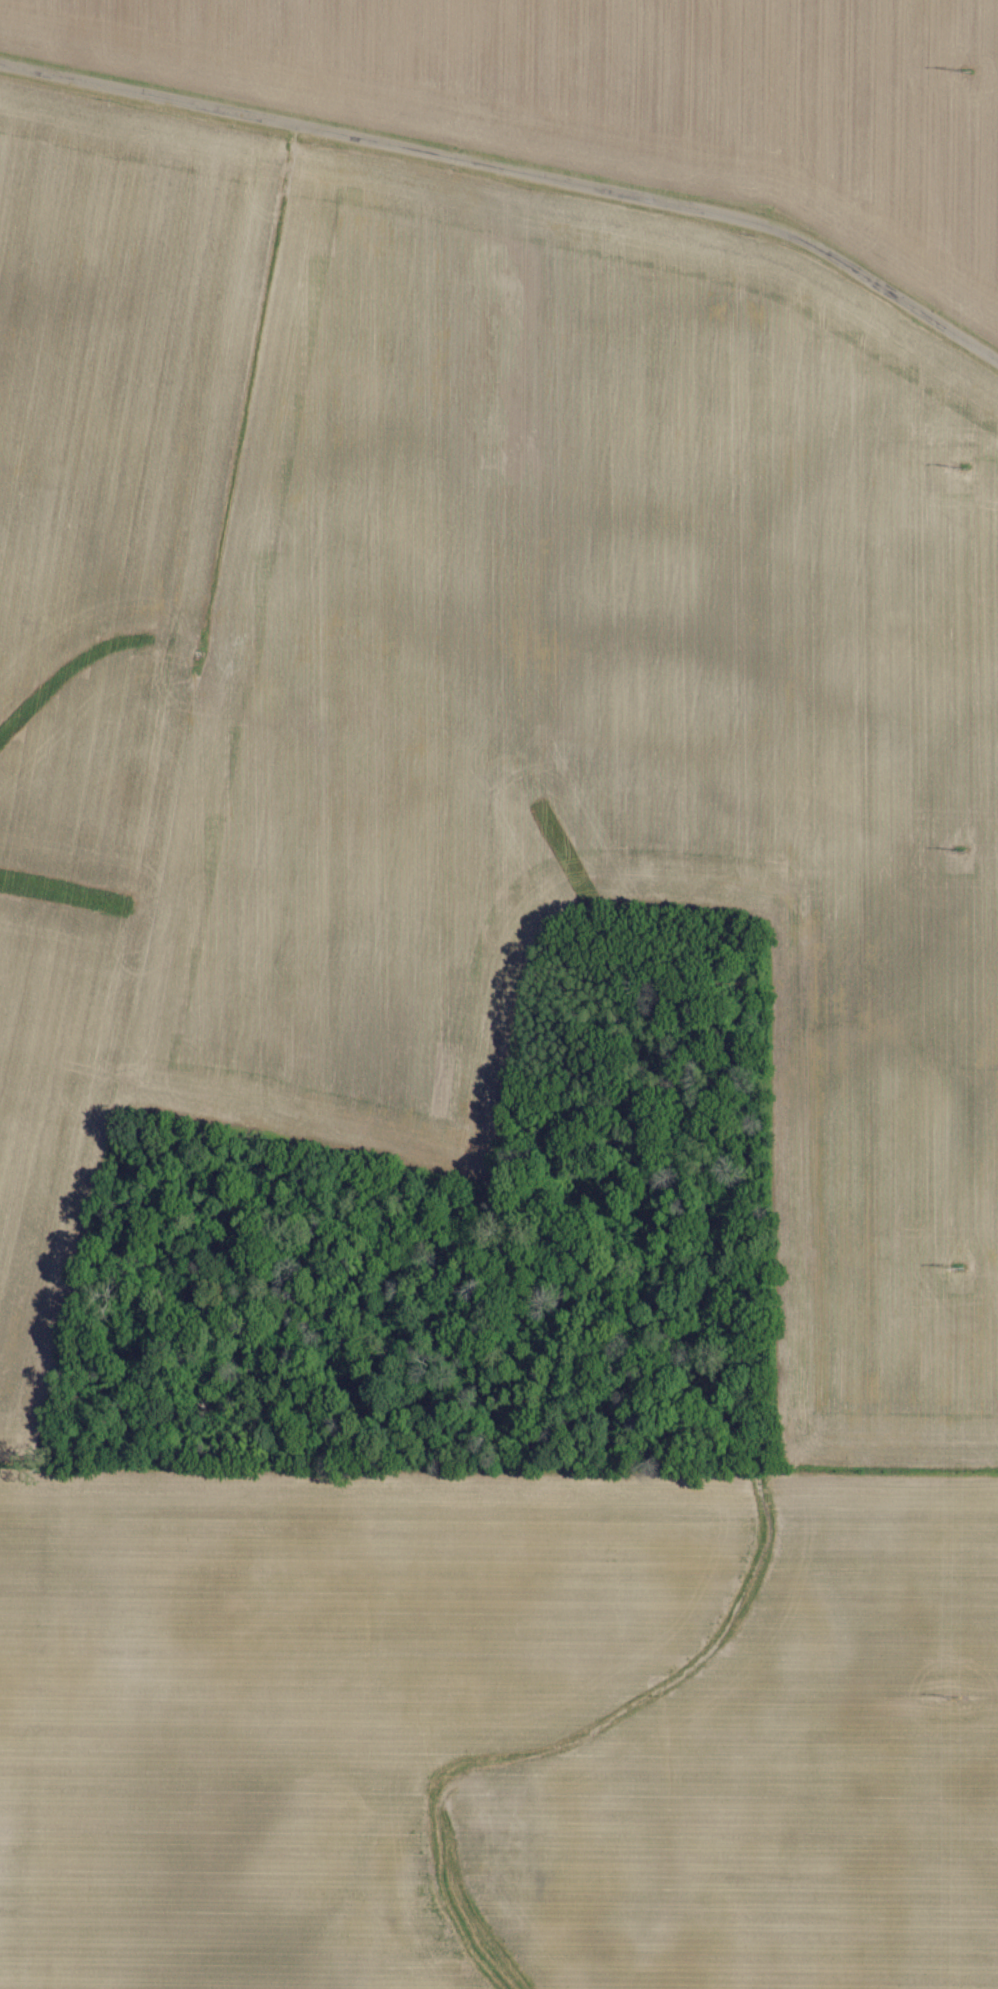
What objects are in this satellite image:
power tower: (974, 73)
road: (514, 170)
power tower: (968, 467)

